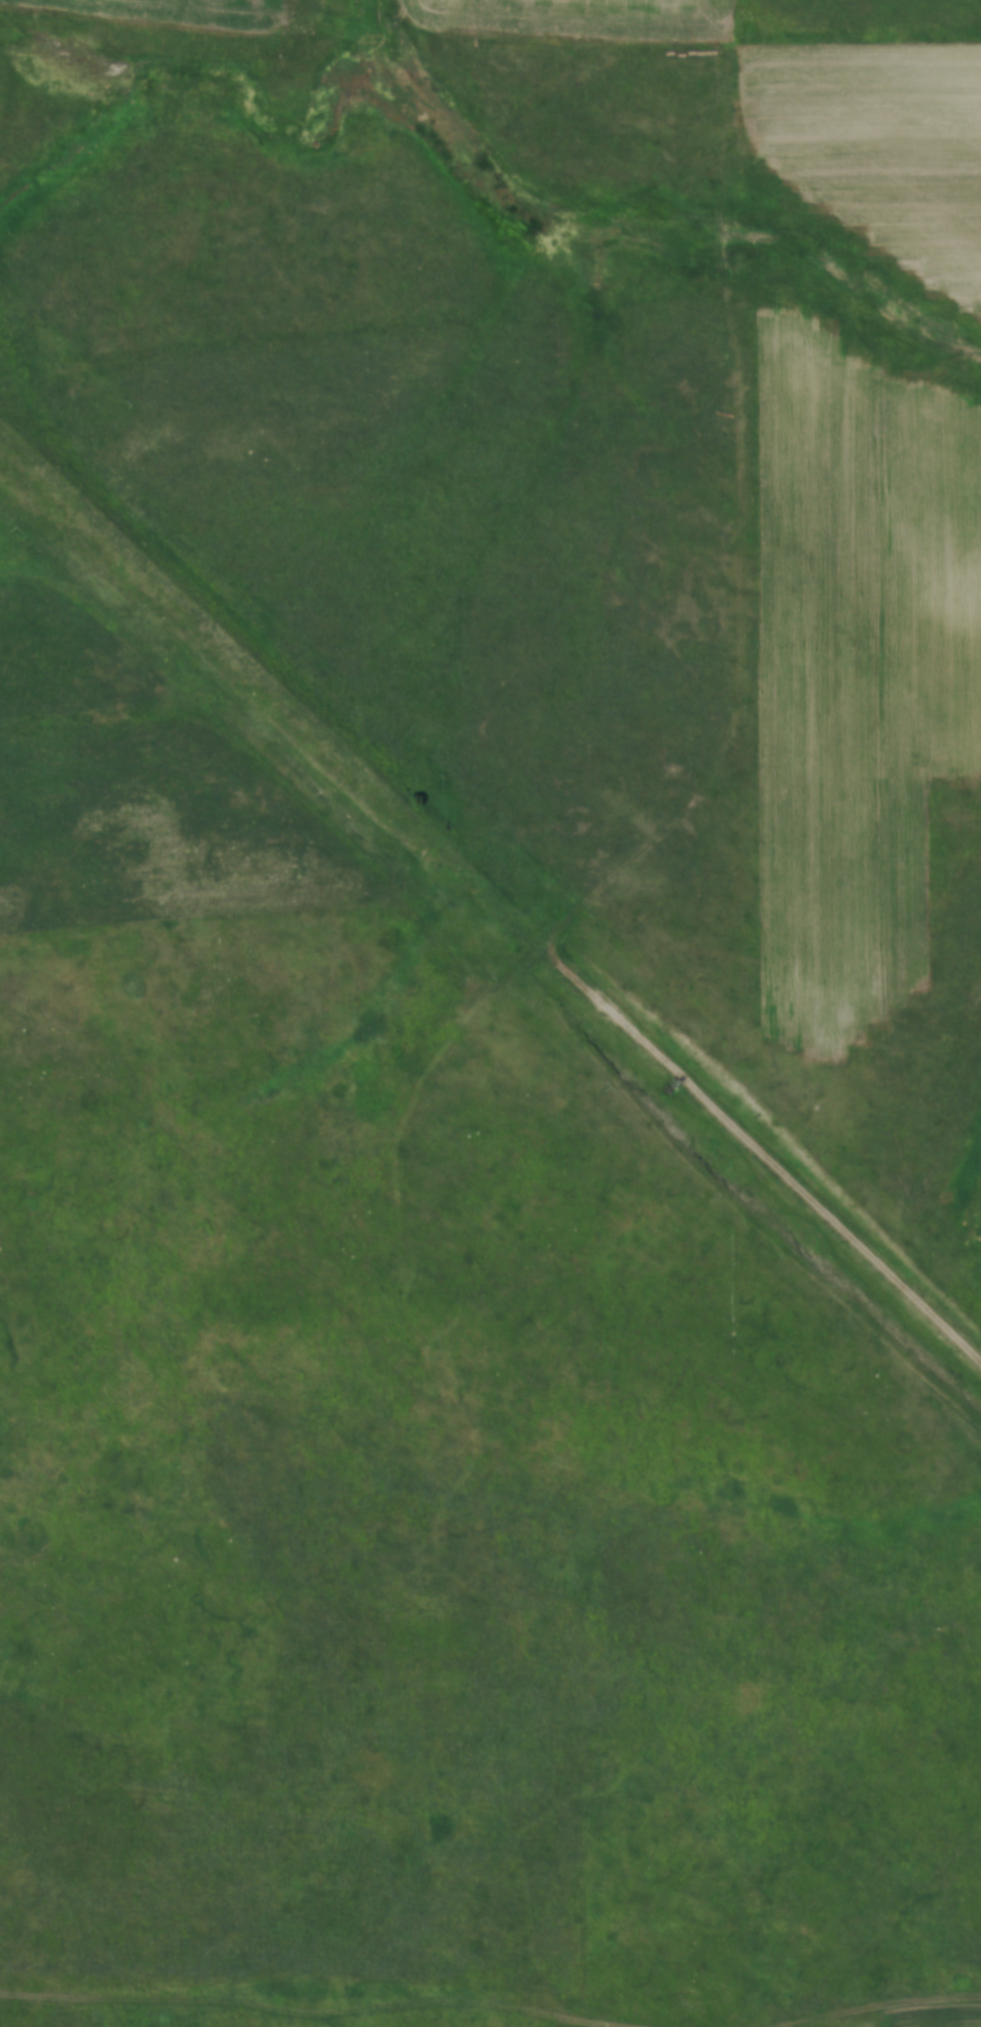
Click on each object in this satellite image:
road: (883, 1999)
road: (302, 2000)

